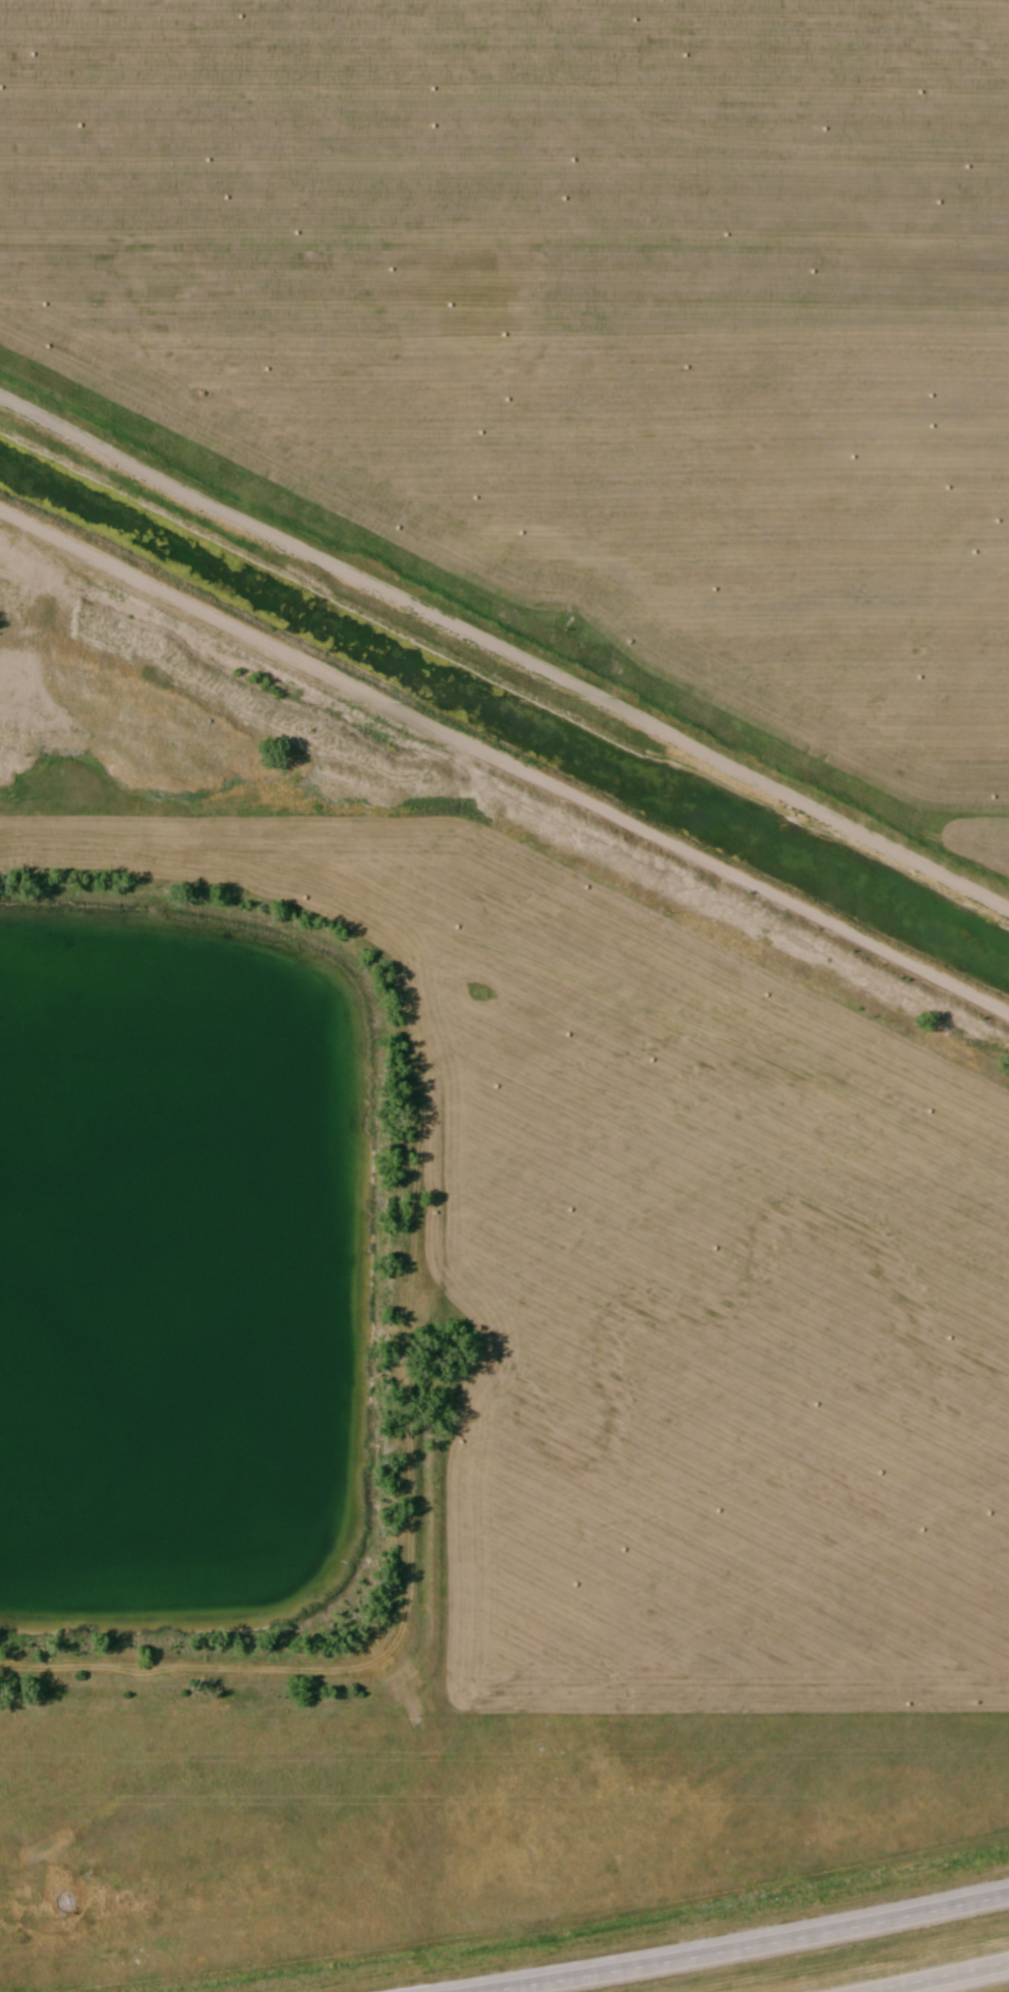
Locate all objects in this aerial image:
road: (505, 653)
road: (504, 765)
road: (743, 1946)
road: (941, 1977)

